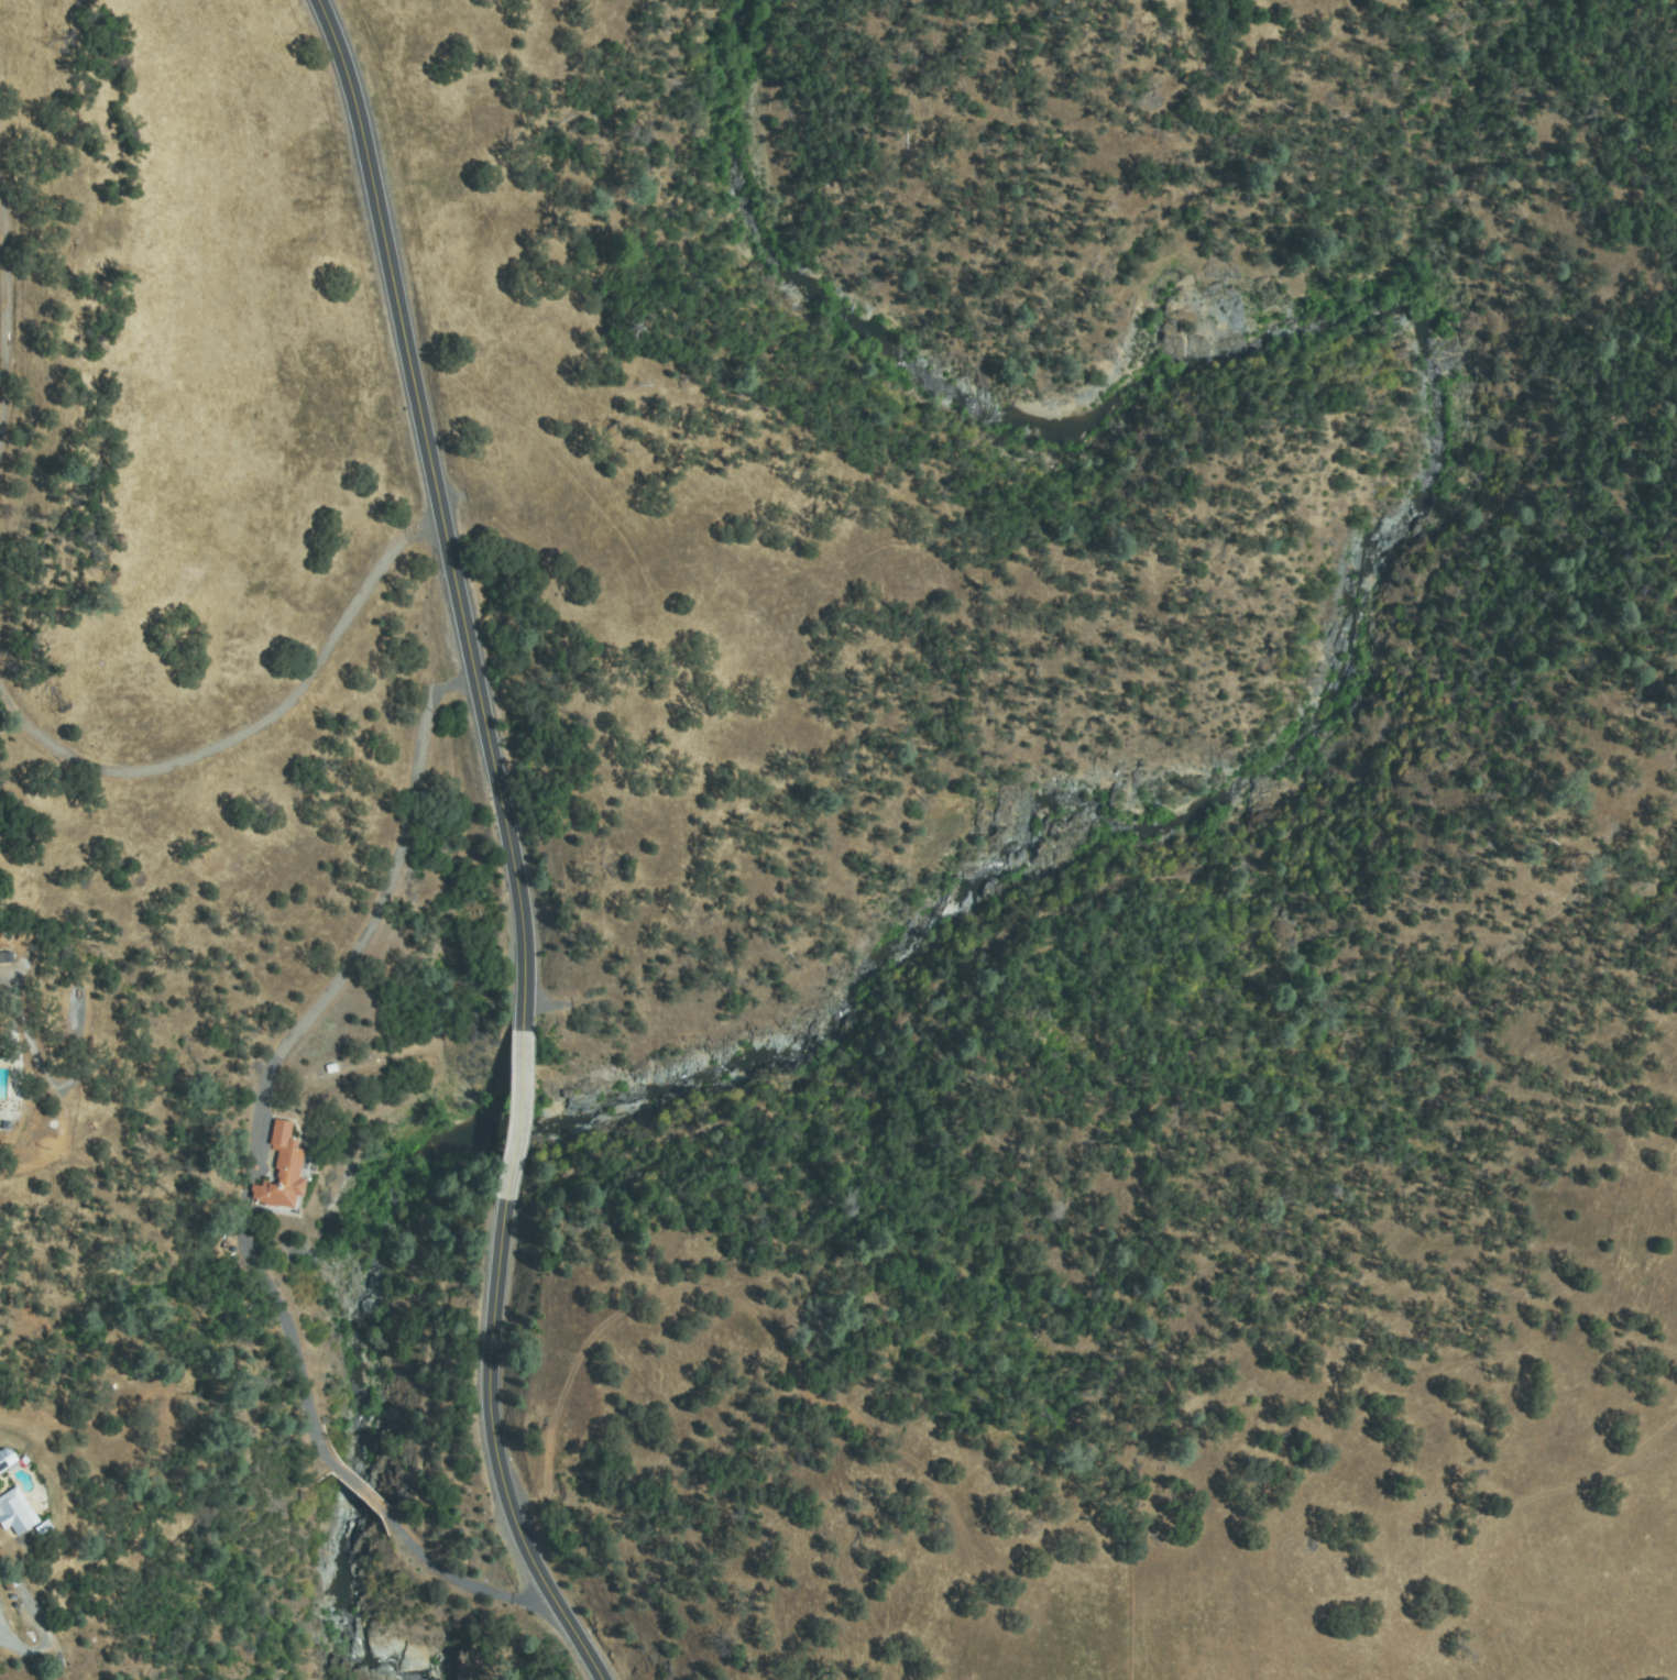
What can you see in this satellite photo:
road: (7, 312)
road: (406, 341)
road: (252, 731)
road: (515, 864)
building: (6, 960)
road: (12, 978)
road: (275, 1047)
road: (518, 1077)
road: (512, 1154)
building: (282, 1171)
road: (497, 1450)
building: (2, 1465)
road: (360, 1490)
building: (15, 1514)
road: (467, 1584)

